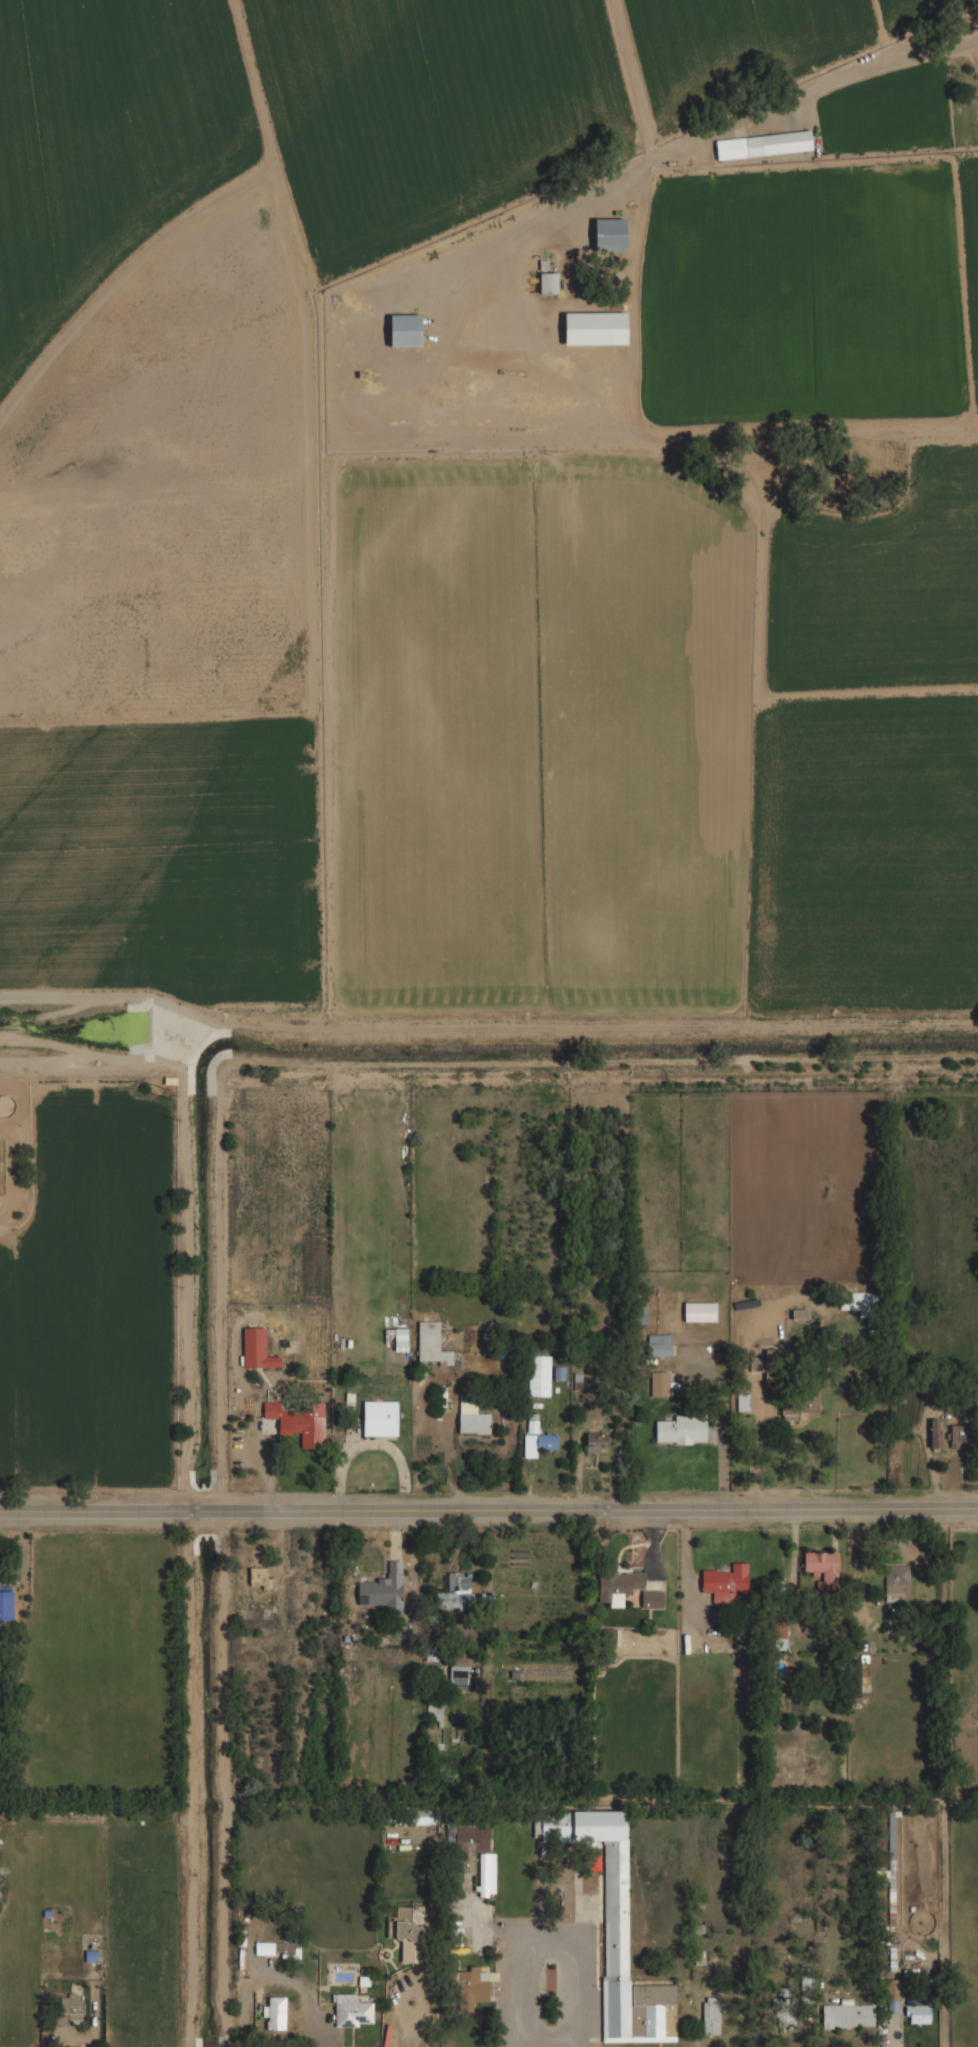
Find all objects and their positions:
crop: (740, 41)
road: (635, 77)
road: (764, 105)
crop: (433, 110)
building: (763, 144)
crop: (106, 147)
building: (609, 233)
building: (547, 282)
crop: (816, 294)
building: (594, 327)
building: (404, 329)
crop: (660, 733)
crop: (157, 858)
road: (100, 997)
road: (335, 1027)
road: (189, 1041)
road: (187, 1286)
building: (859, 1303)
building: (699, 1311)
building: (431, 1343)
building: (659, 1345)
building: (257, 1349)
building: (539, 1375)
building: (659, 1384)
building: (743, 1402)
building: (798, 1406)
building: (379, 1418)
building: (472, 1419)
building: (299, 1421)
building: (532, 1424)
building: (682, 1429)
building: (935, 1433)
building: (961, 1437)
building: (596, 1441)
building: (538, 1443)
road: (488, 1503)
building: (822, 1566)
building: (258, 1576)
building: (726, 1582)
building: (896, 1583)
building: (382, 1587)
building: (625, 1587)
building: (455, 1588)
building: (7, 1603)
building: (777, 1628)
building: (458, 1674)
building: (434, 1711)
road: (191, 1777)
building: (423, 1817)
building: (474, 1855)
building: (615, 1928)
building: (406, 1935)
road: (548, 1943)
building: (276, 1948)
building: (473, 1986)
building: (70, 2006)
building: (891, 2007)
building: (350, 2010)
building: (274, 2012)
building: (917, 2013)
building: (784, 2014)
building: (846, 2014)
building: (710, 2015)

